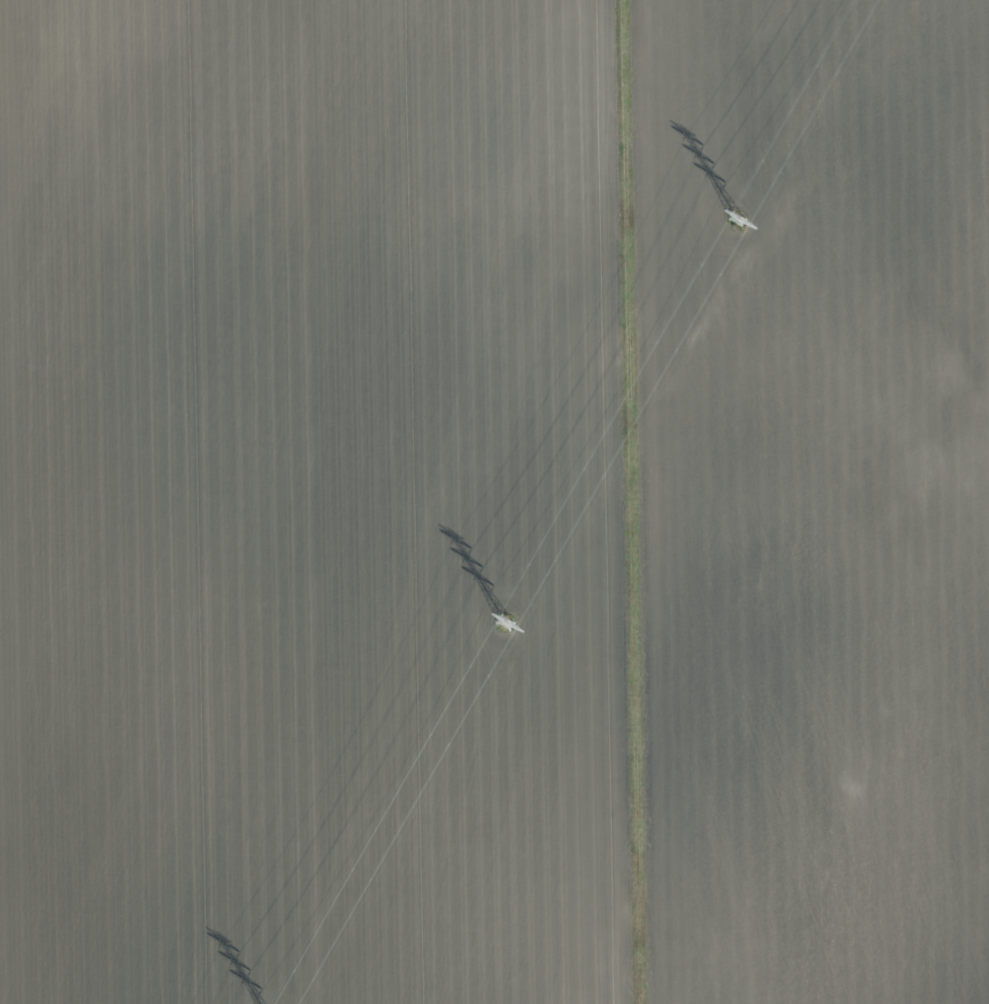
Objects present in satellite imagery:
power tower: (737, 220)
road: (635, 502)
power tower: (506, 624)

